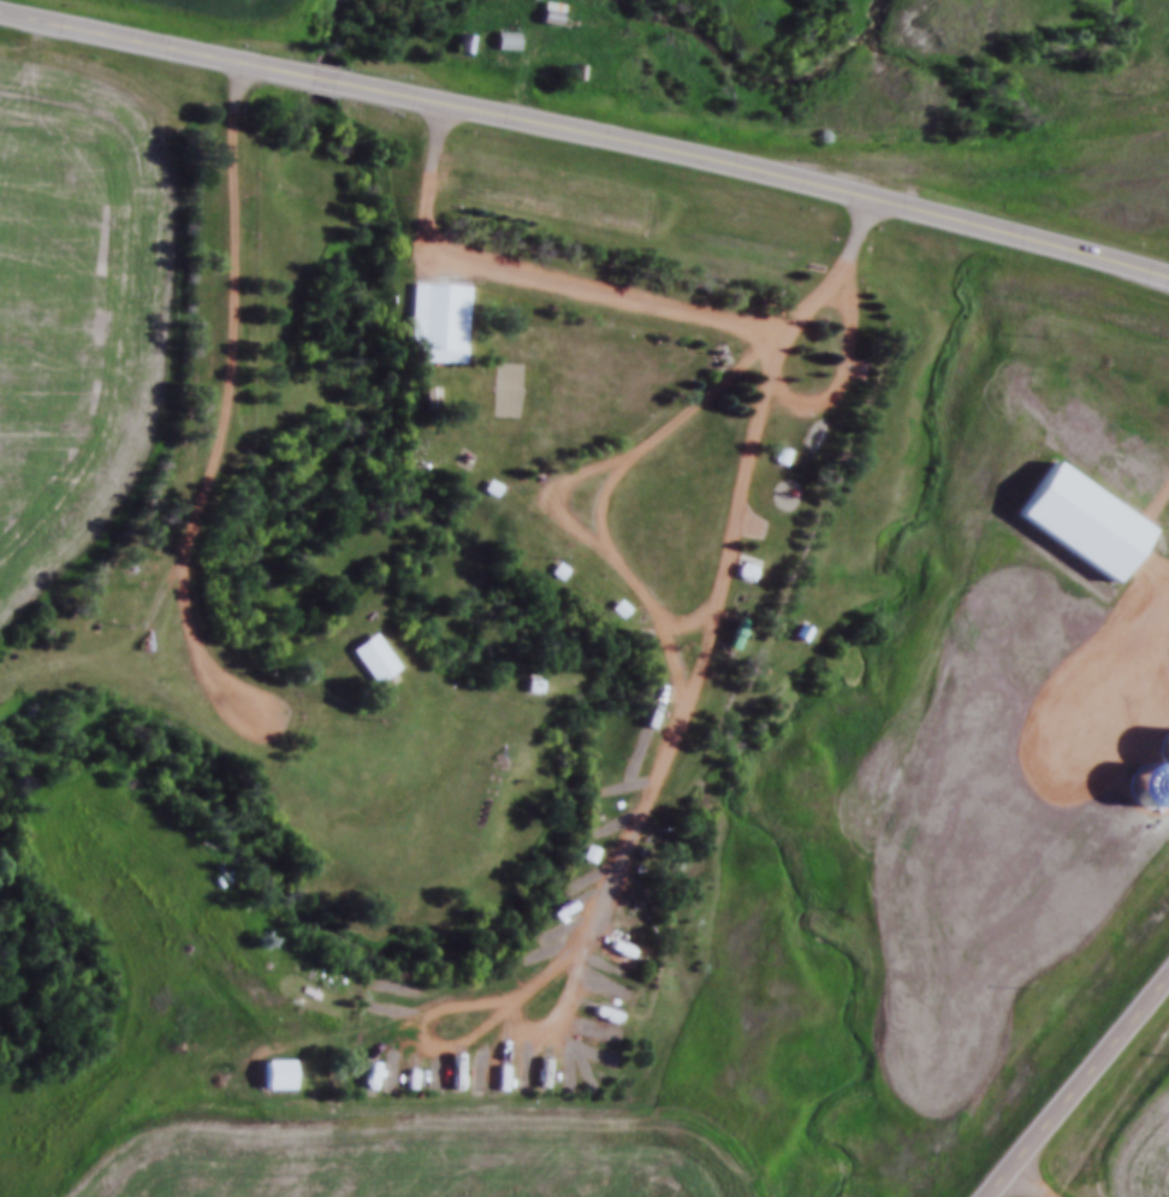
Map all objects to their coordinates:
building: (550, 11)
building: (504, 38)
building: (462, 41)
building: (577, 71)
road: (587, 136)
road: (981, 172)
road: (532, 282)
crop: (75, 316)
building: (432, 326)
road: (845, 369)
park: (499, 390)
building: (423, 399)
road: (229, 405)
road: (676, 422)
building: (775, 458)
building: (483, 490)
building: (1073, 523)
building: (550, 573)
building: (740, 574)
building: (613, 611)
building: (794, 635)
building: (731, 638)
building: (367, 659)
building: (532, 685)
building: (526, 688)
road: (649, 796)
building: (584, 852)
building: (528, 953)
building: (432, 1074)
building: (379, 1075)
building: (274, 1079)
road: (1073, 1085)
road: (1032, 1179)

